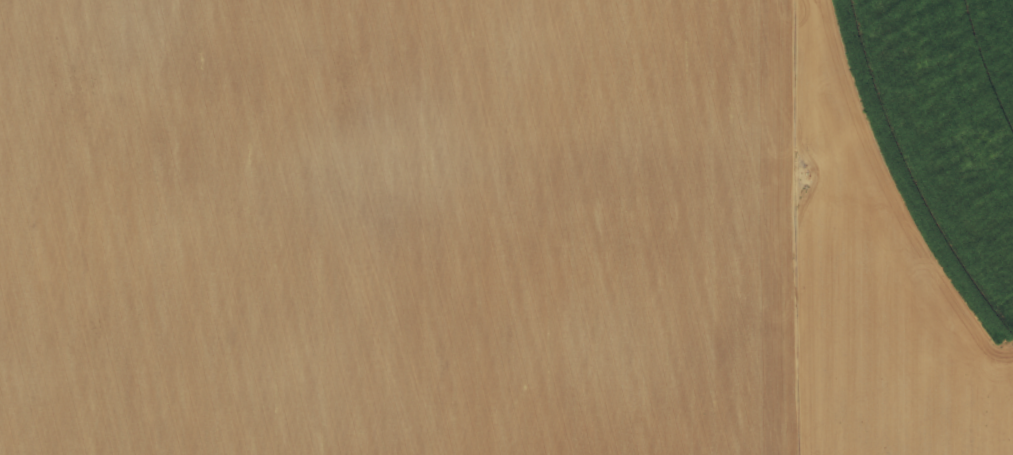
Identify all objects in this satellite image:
road: (789, 227)

